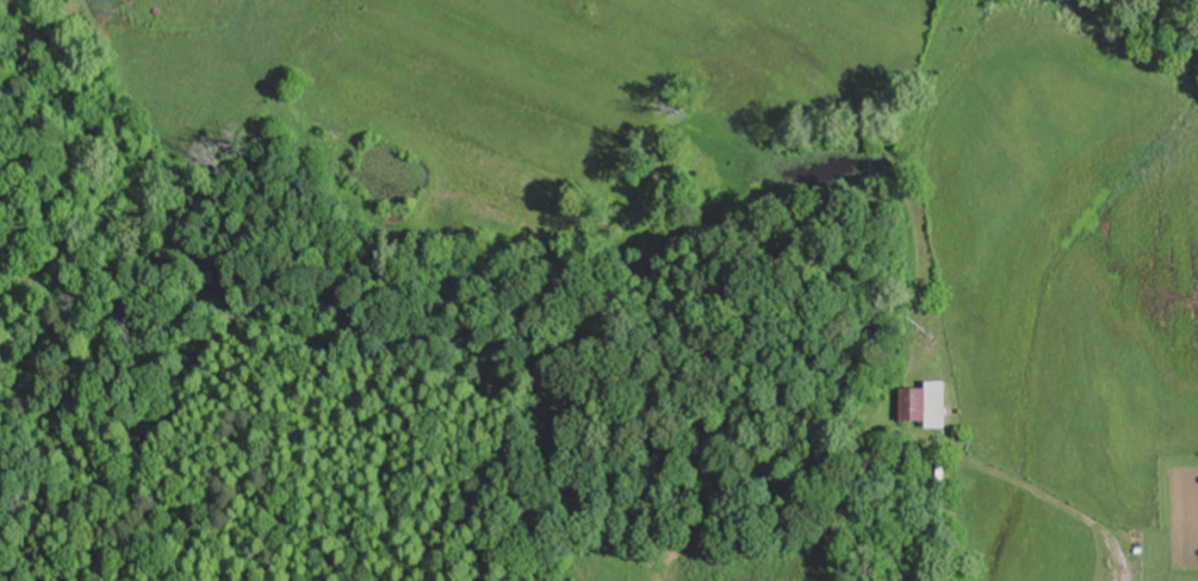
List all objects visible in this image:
building: (930, 405)

